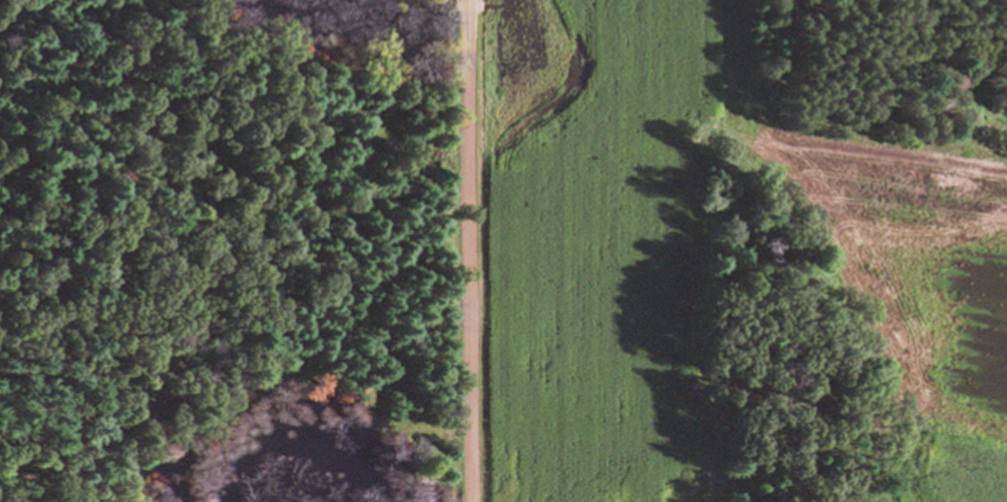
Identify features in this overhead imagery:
road: (470, 251)

